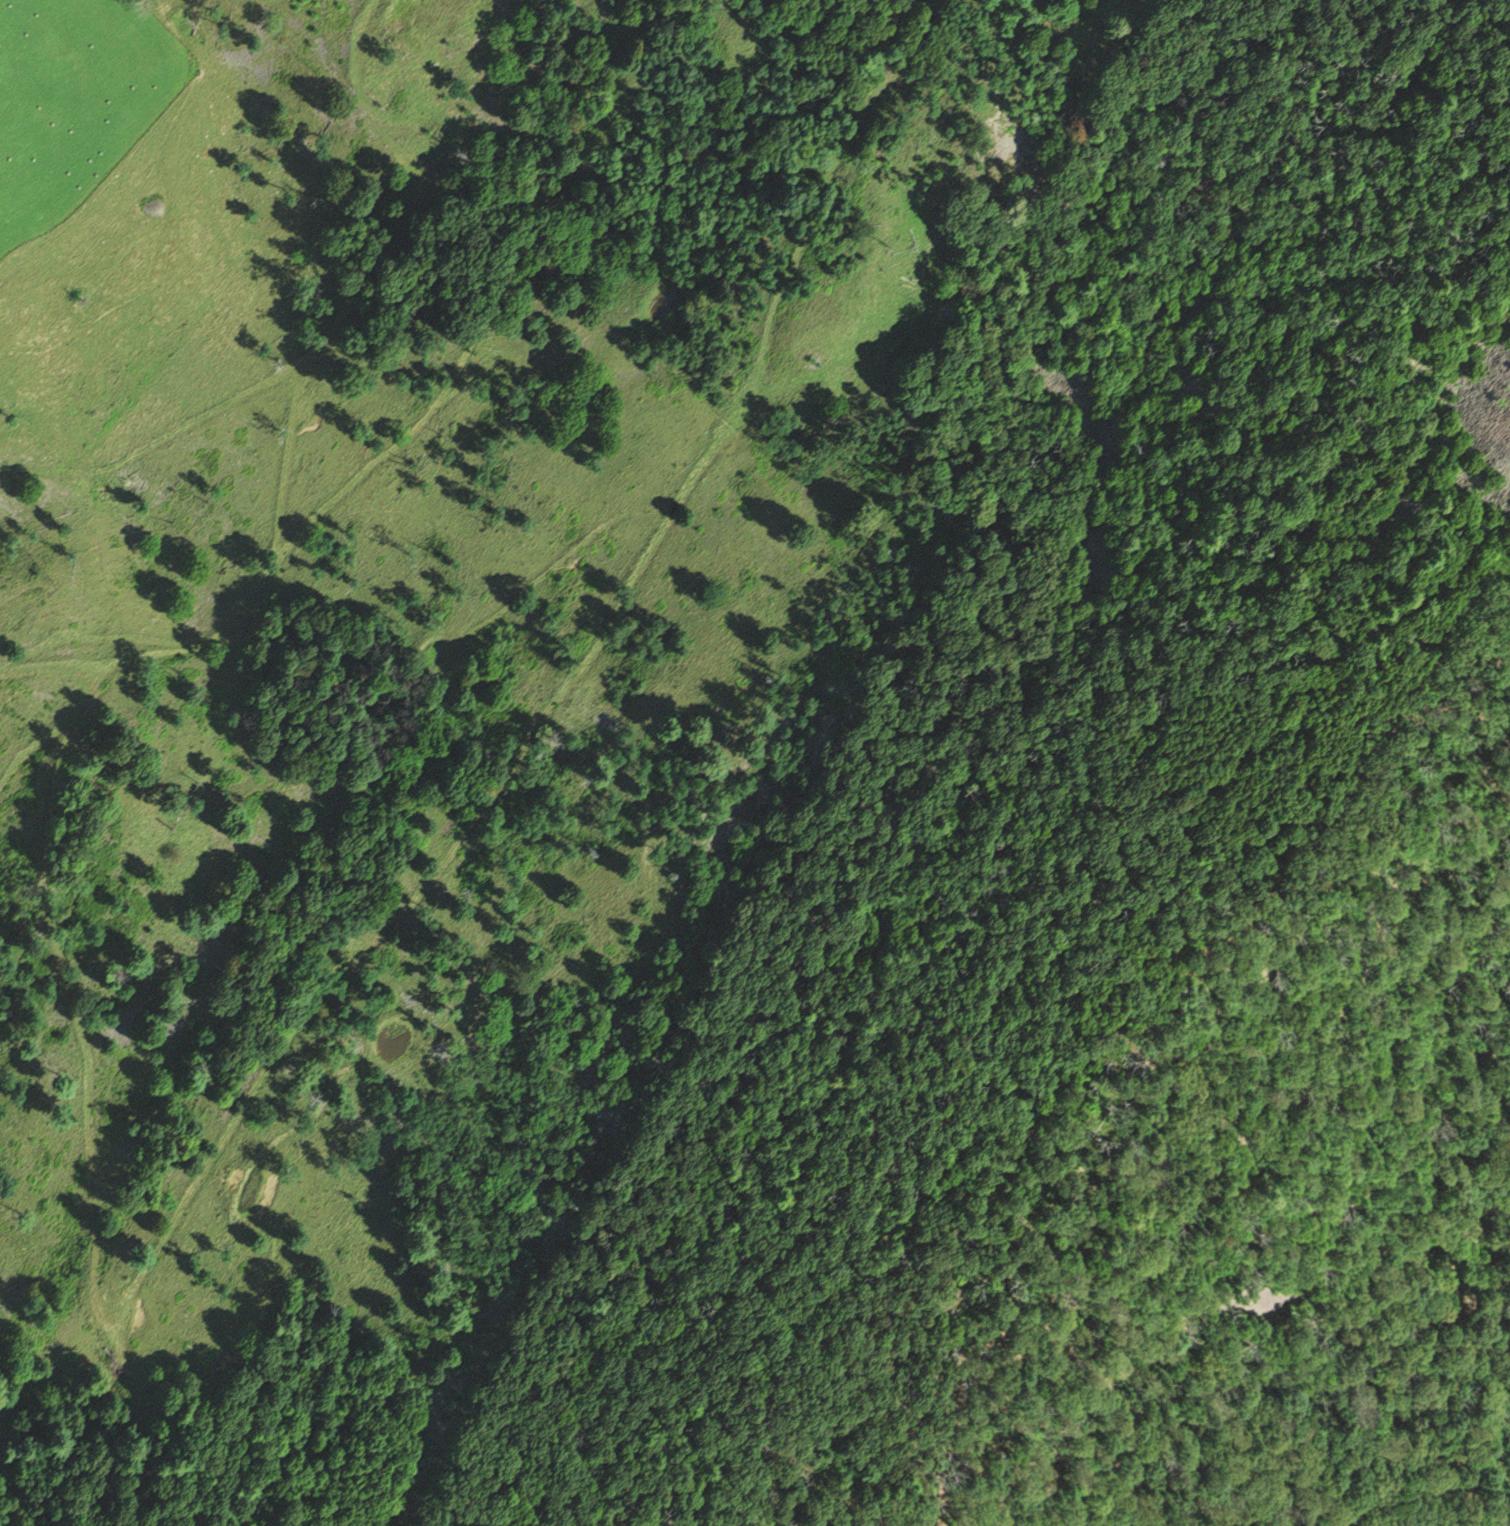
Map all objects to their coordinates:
road: (1026, 1308)

